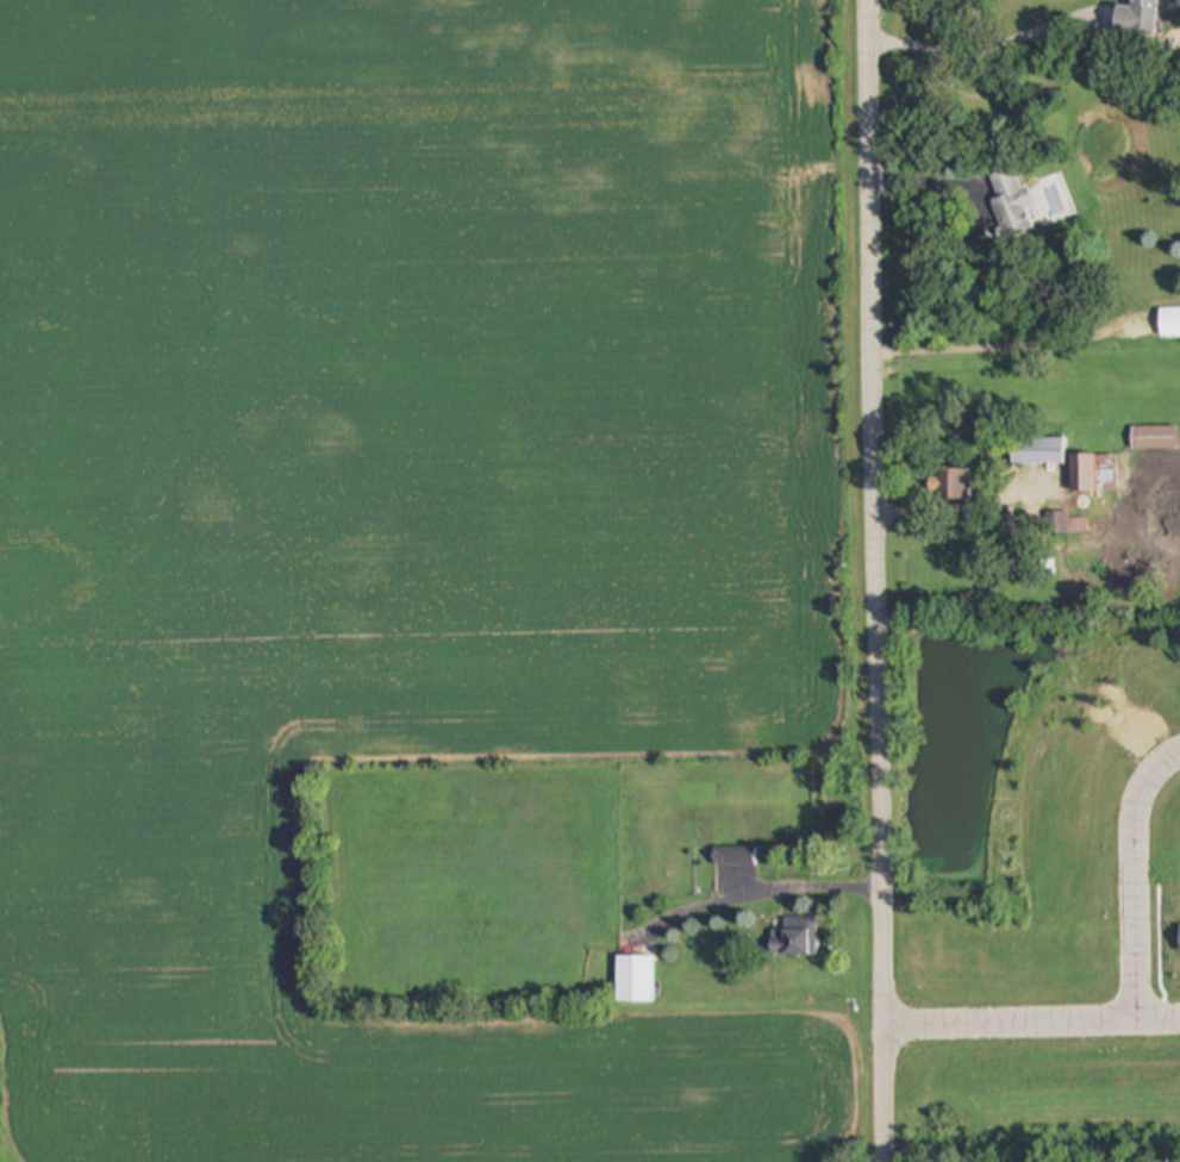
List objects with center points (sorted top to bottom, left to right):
building: (1137, 18)
road: (991, 43)
building: (1012, 204)
building: (1169, 323)
road: (1003, 346)
road: (885, 431)
building: (1155, 438)
building: (1038, 451)
building: (1091, 473)
building: (950, 486)
building: (1060, 523)
building: (733, 855)
road: (1135, 875)
road: (776, 886)
building: (794, 936)
building: (635, 979)
road: (882, 1012)
road: (1030, 1022)

